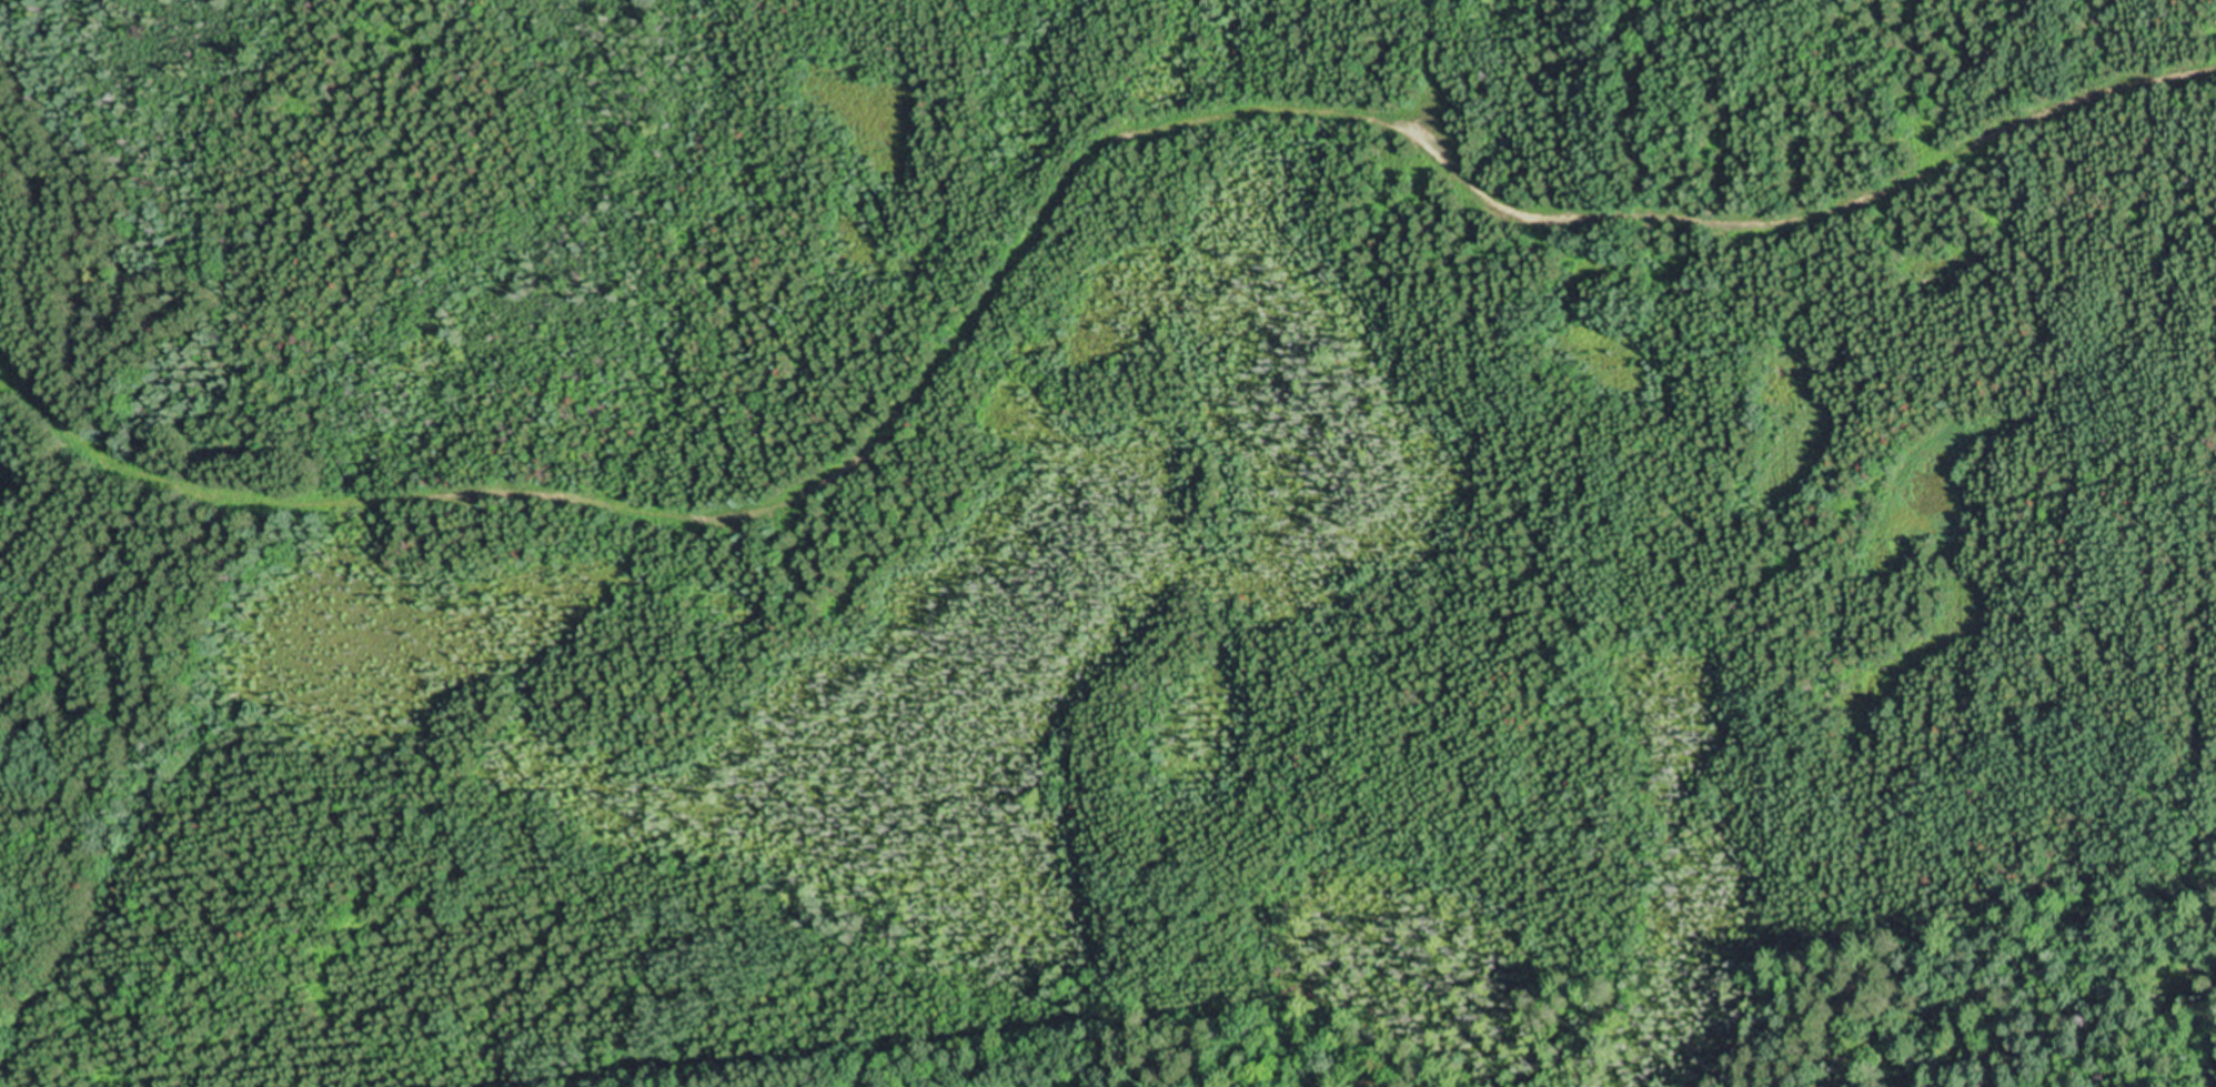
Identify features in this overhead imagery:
road: (1262, 139)
road: (127, 420)

